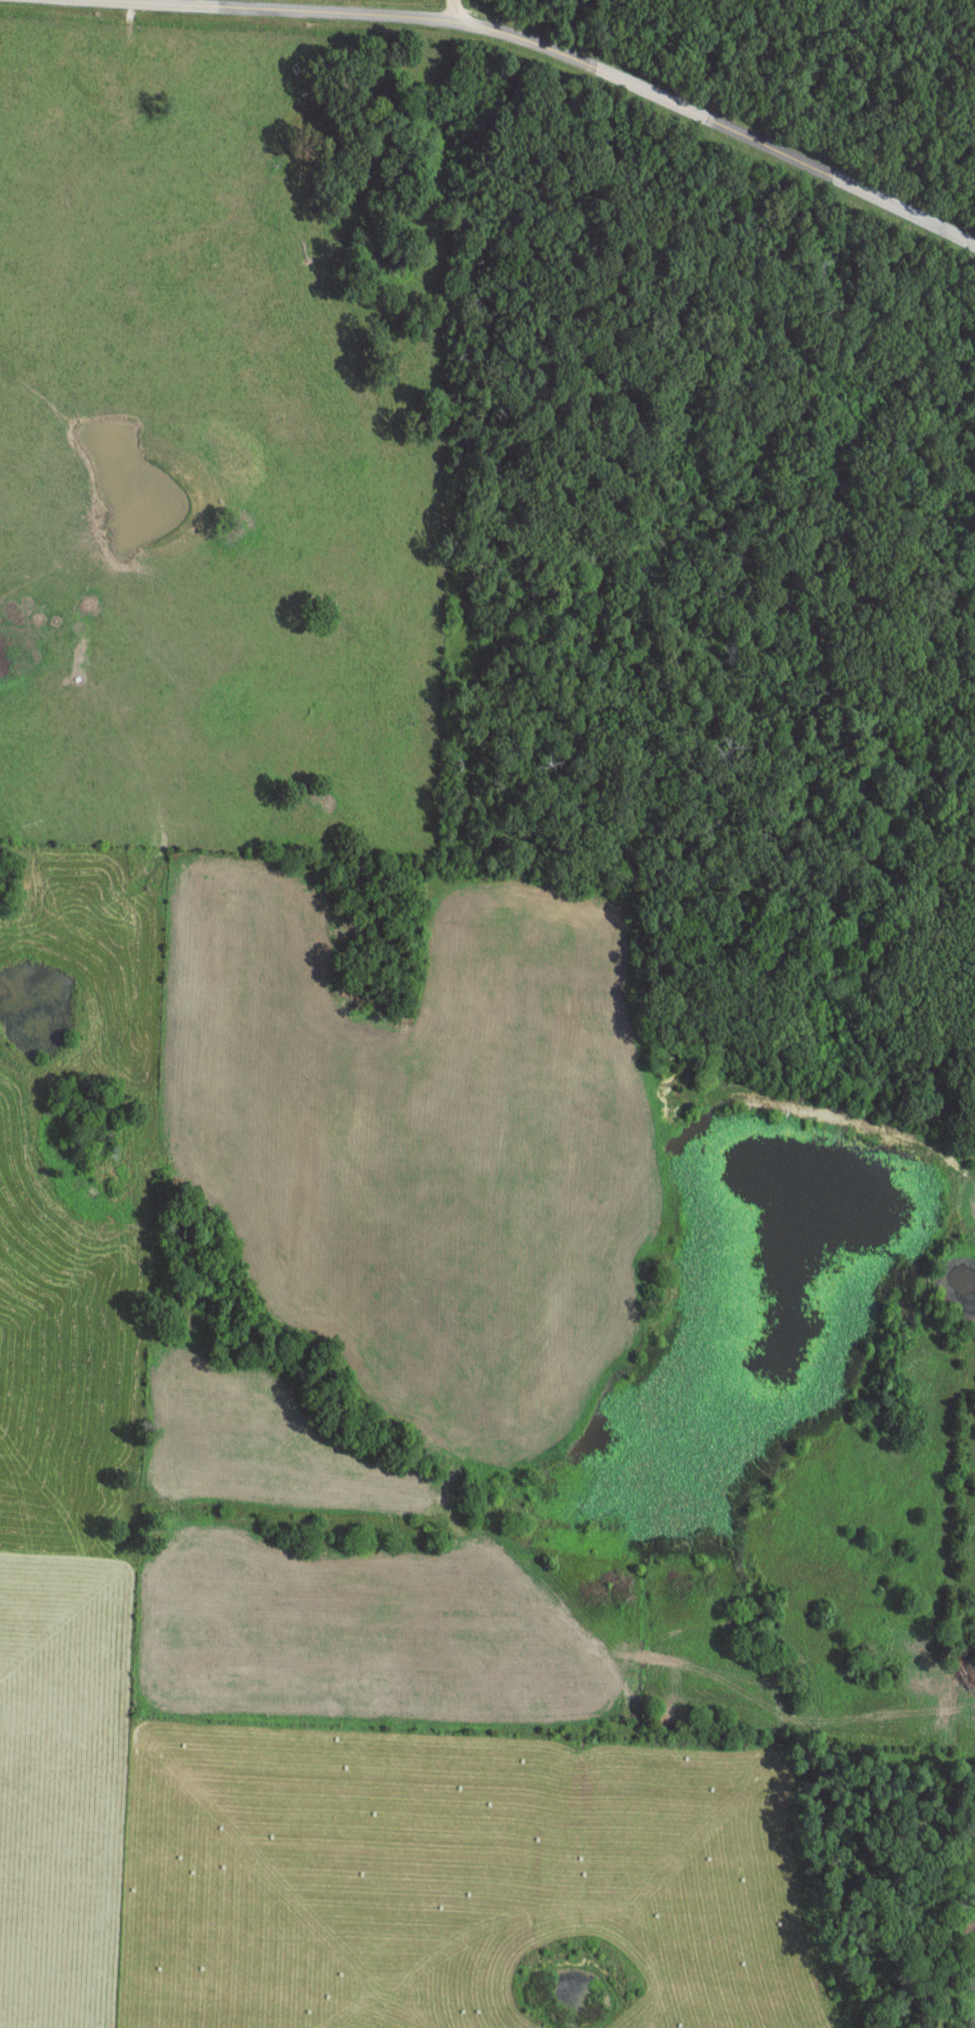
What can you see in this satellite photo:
road: (450, 10)
road: (557, 52)

